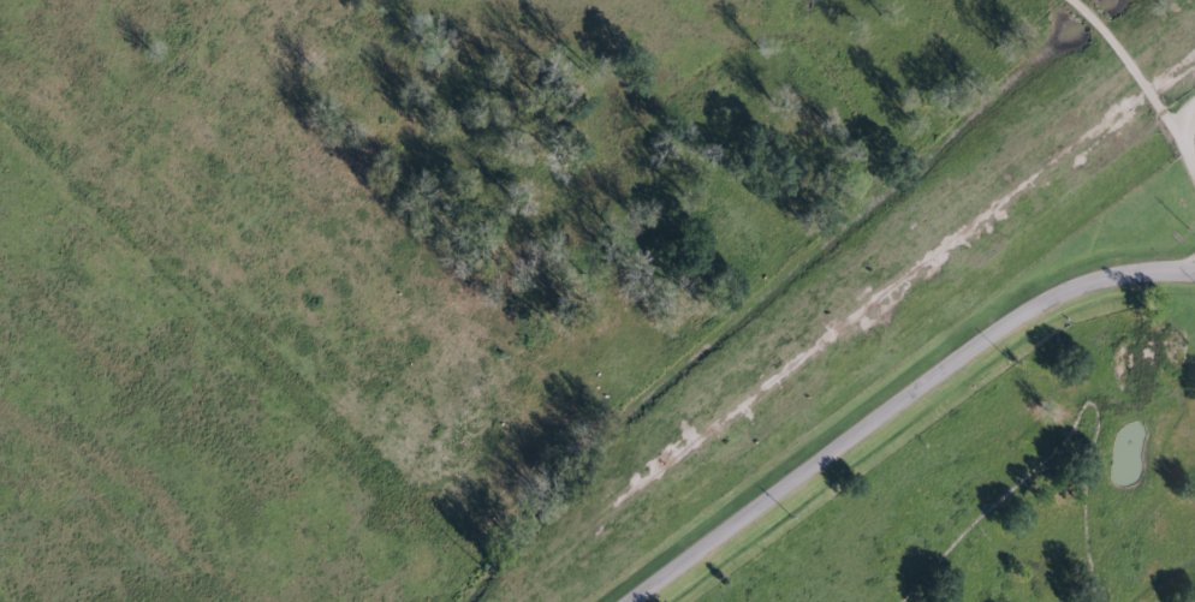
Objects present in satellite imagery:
road: (1128, 68)
road: (1182, 148)
road: (894, 397)
park: (1007, 490)

